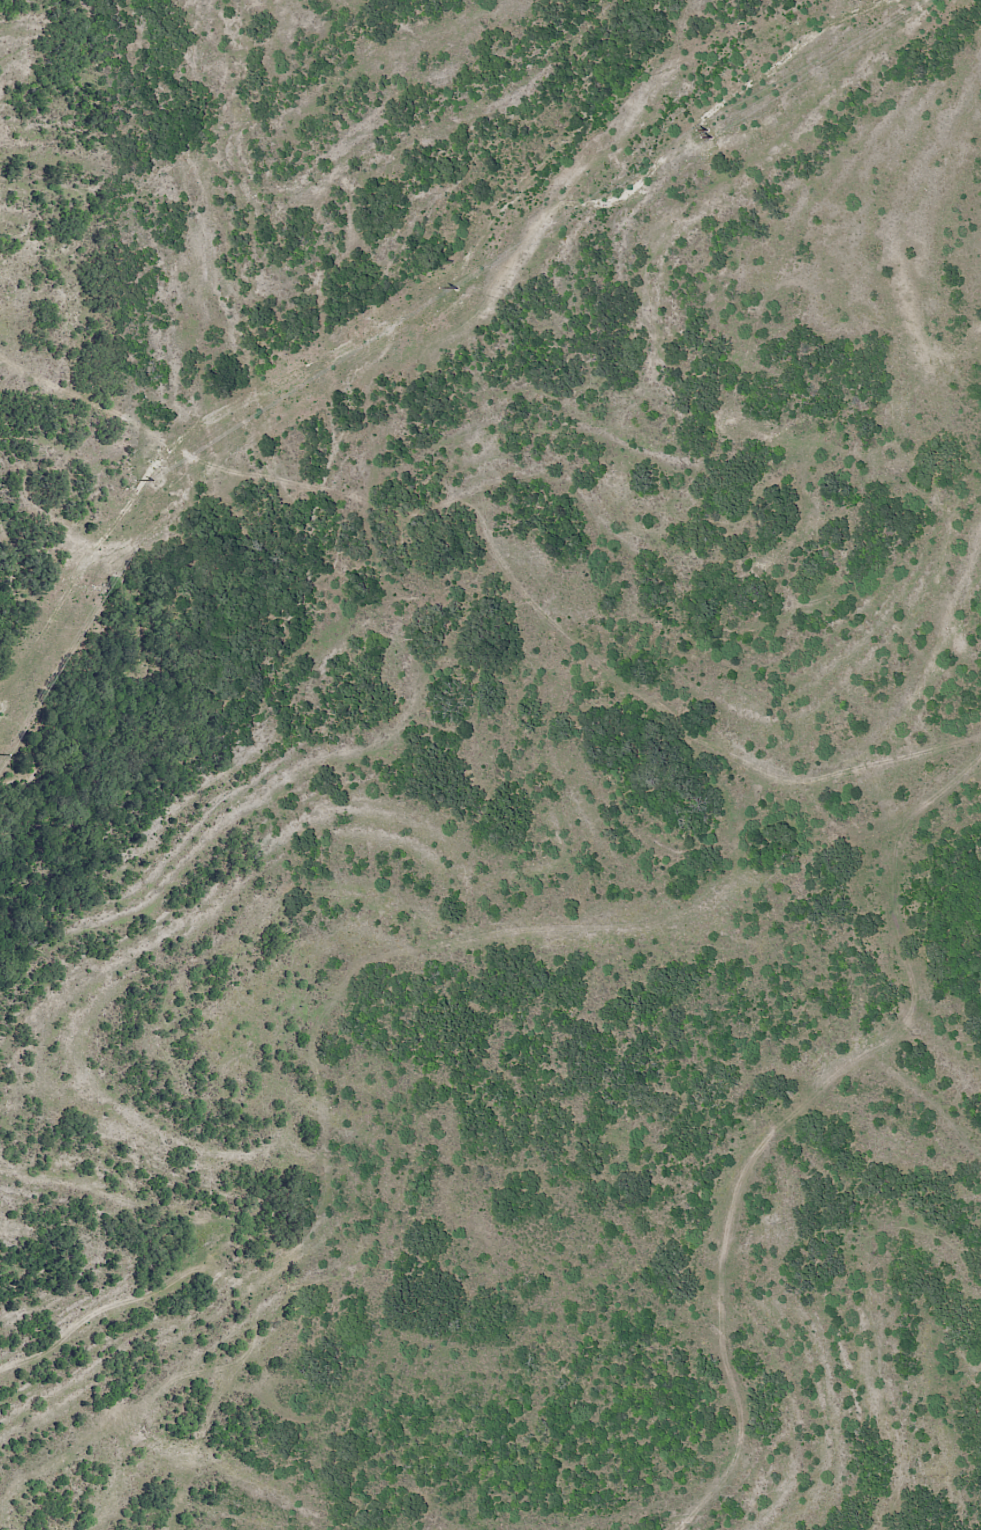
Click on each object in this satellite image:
power tower: (705, 126)
power tower: (458, 285)
power tower: (153, 476)
road: (485, 560)
road: (377, 991)
road: (732, 1180)

